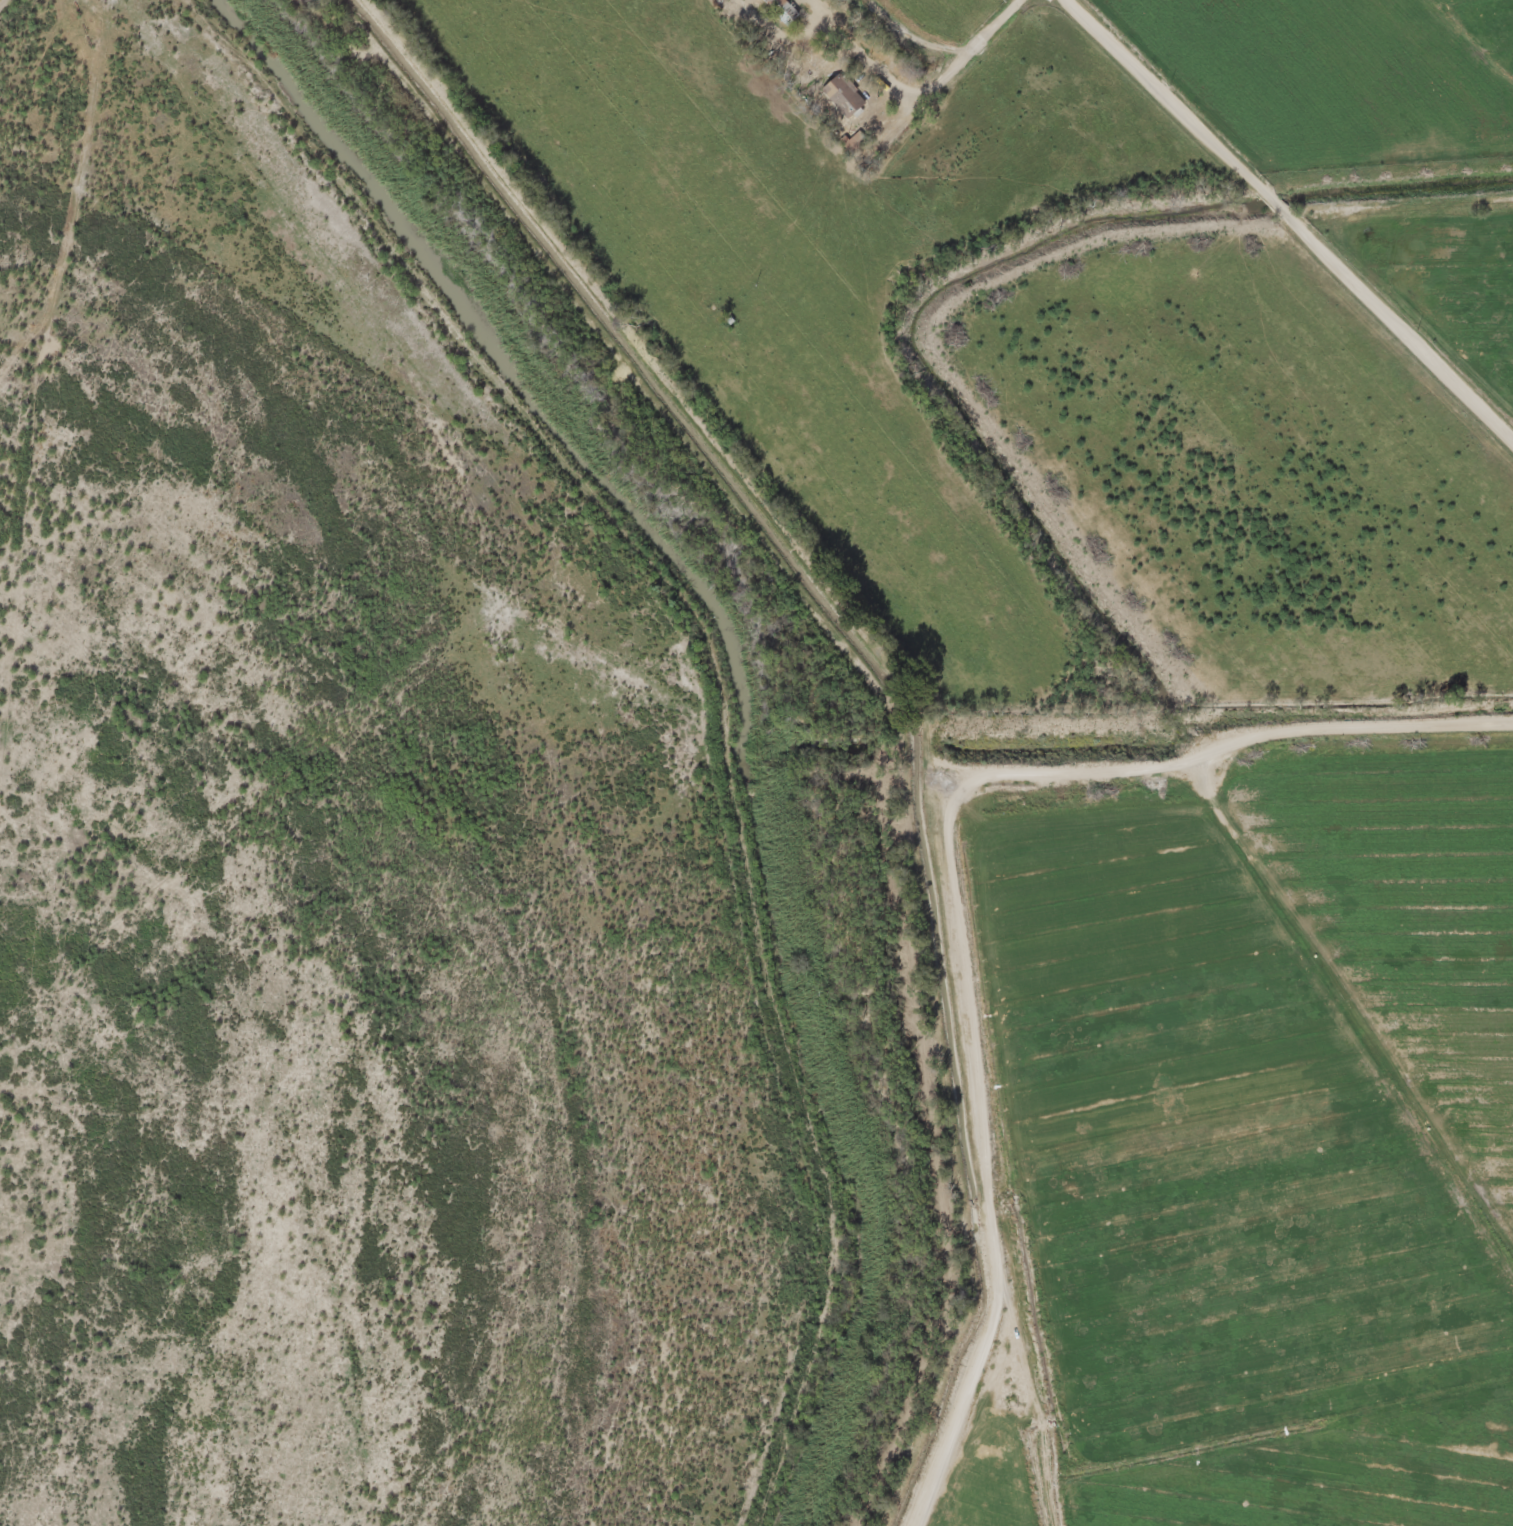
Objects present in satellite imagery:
road: (7, 5)
building: (776, 10)
road: (964, 51)
building: (839, 98)
road: (1292, 216)
road: (719, 682)
road: (946, 880)

